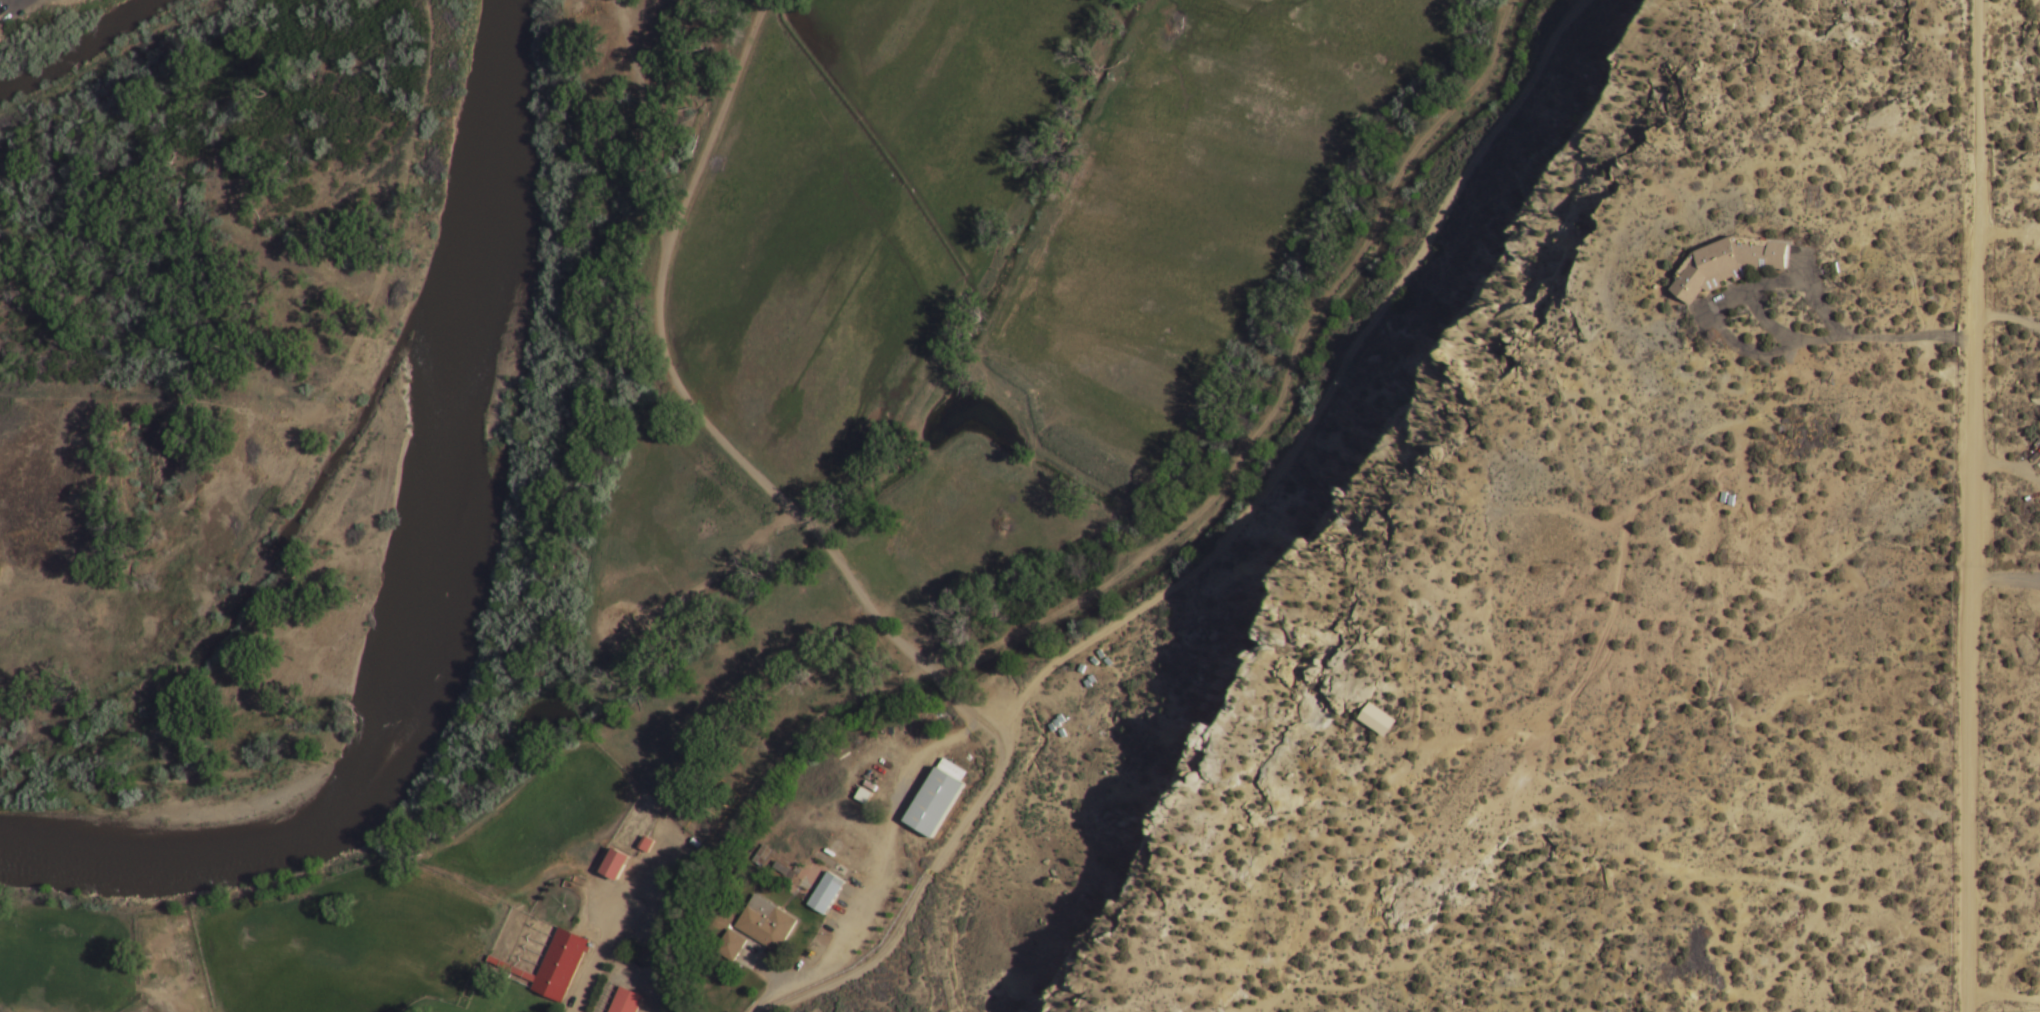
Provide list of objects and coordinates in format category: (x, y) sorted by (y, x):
river: (80, 48)
road: (633, 126)
road: (2009, 234)
crop: (1003, 255)
building: (1728, 265)
road: (1817, 300)
road: (2009, 318)
road: (1767, 323)
road: (1779, 351)
road: (344, 369)
road: (677, 391)
road: (1324, 397)
road: (2032, 463)
road: (2008, 469)
road: (1974, 506)
road: (1116, 551)
road: (1135, 565)
road: (723, 572)
road: (2007, 581)
river: (443, 594)
building: (619, 628)
building: (1378, 721)
building: (936, 799)
building: (646, 845)
building: (762, 856)
building: (615, 865)
road: (877, 871)
road: (929, 875)
building: (785, 876)
building: (826, 894)
building: (766, 924)
building: (730, 946)
crop: (257, 949)
road: (597, 959)
road: (2012, 962)
building: (553, 966)
road: (2003, 997)
building: (626, 1001)

